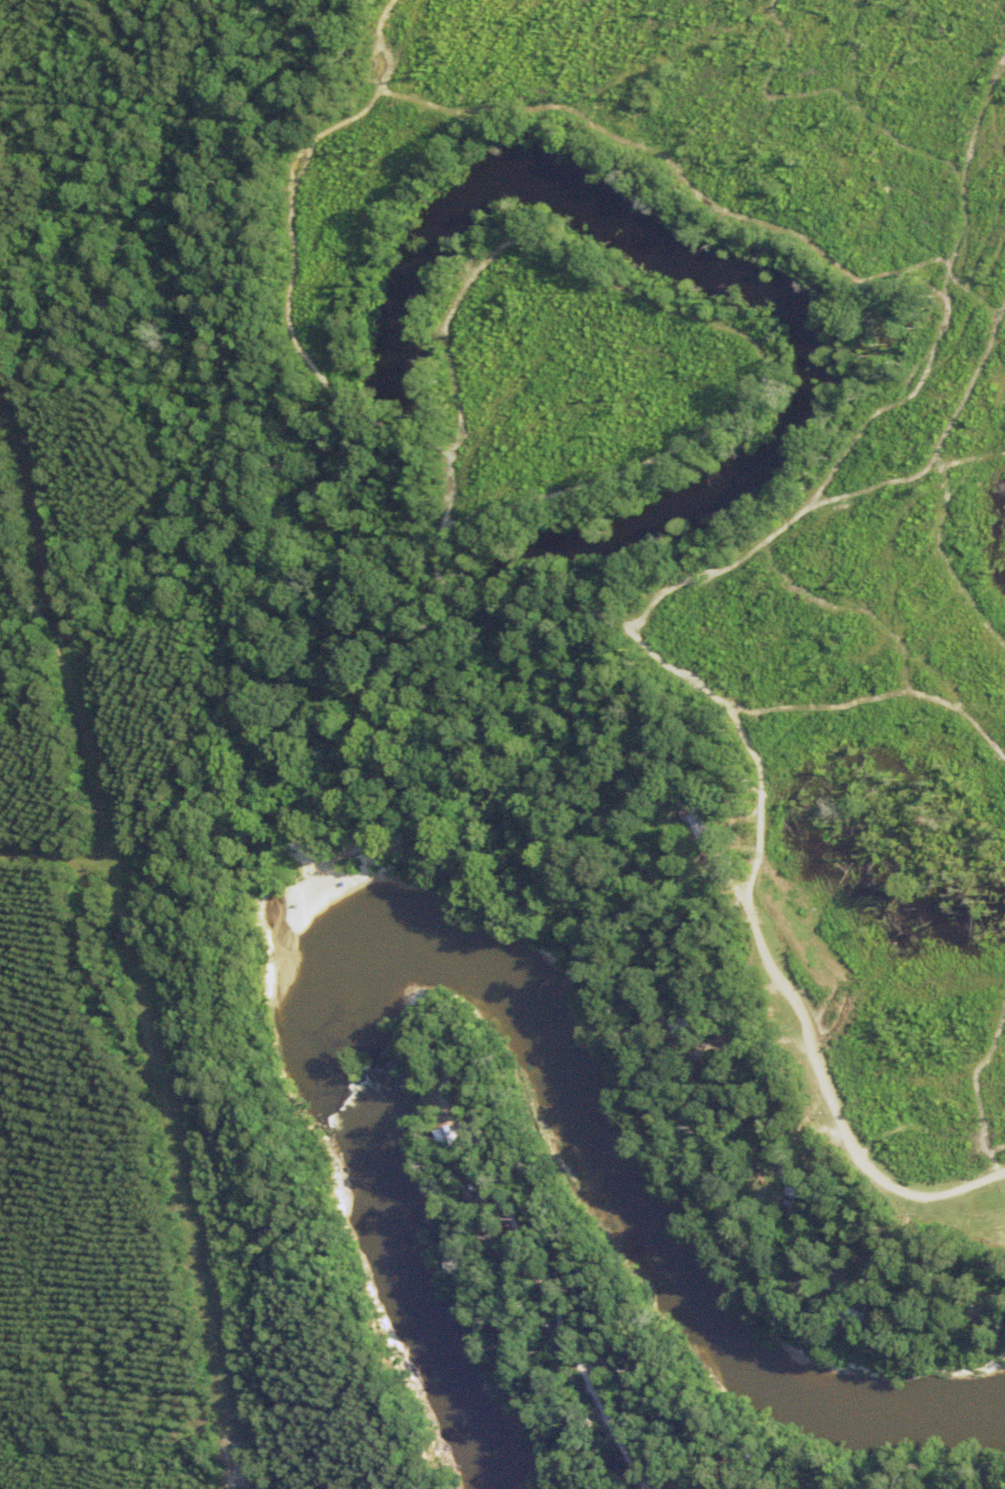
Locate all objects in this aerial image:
building: (690, 826)
river: (499, 958)
building: (691, 1021)
building: (796, 1187)
building: (479, 1192)

